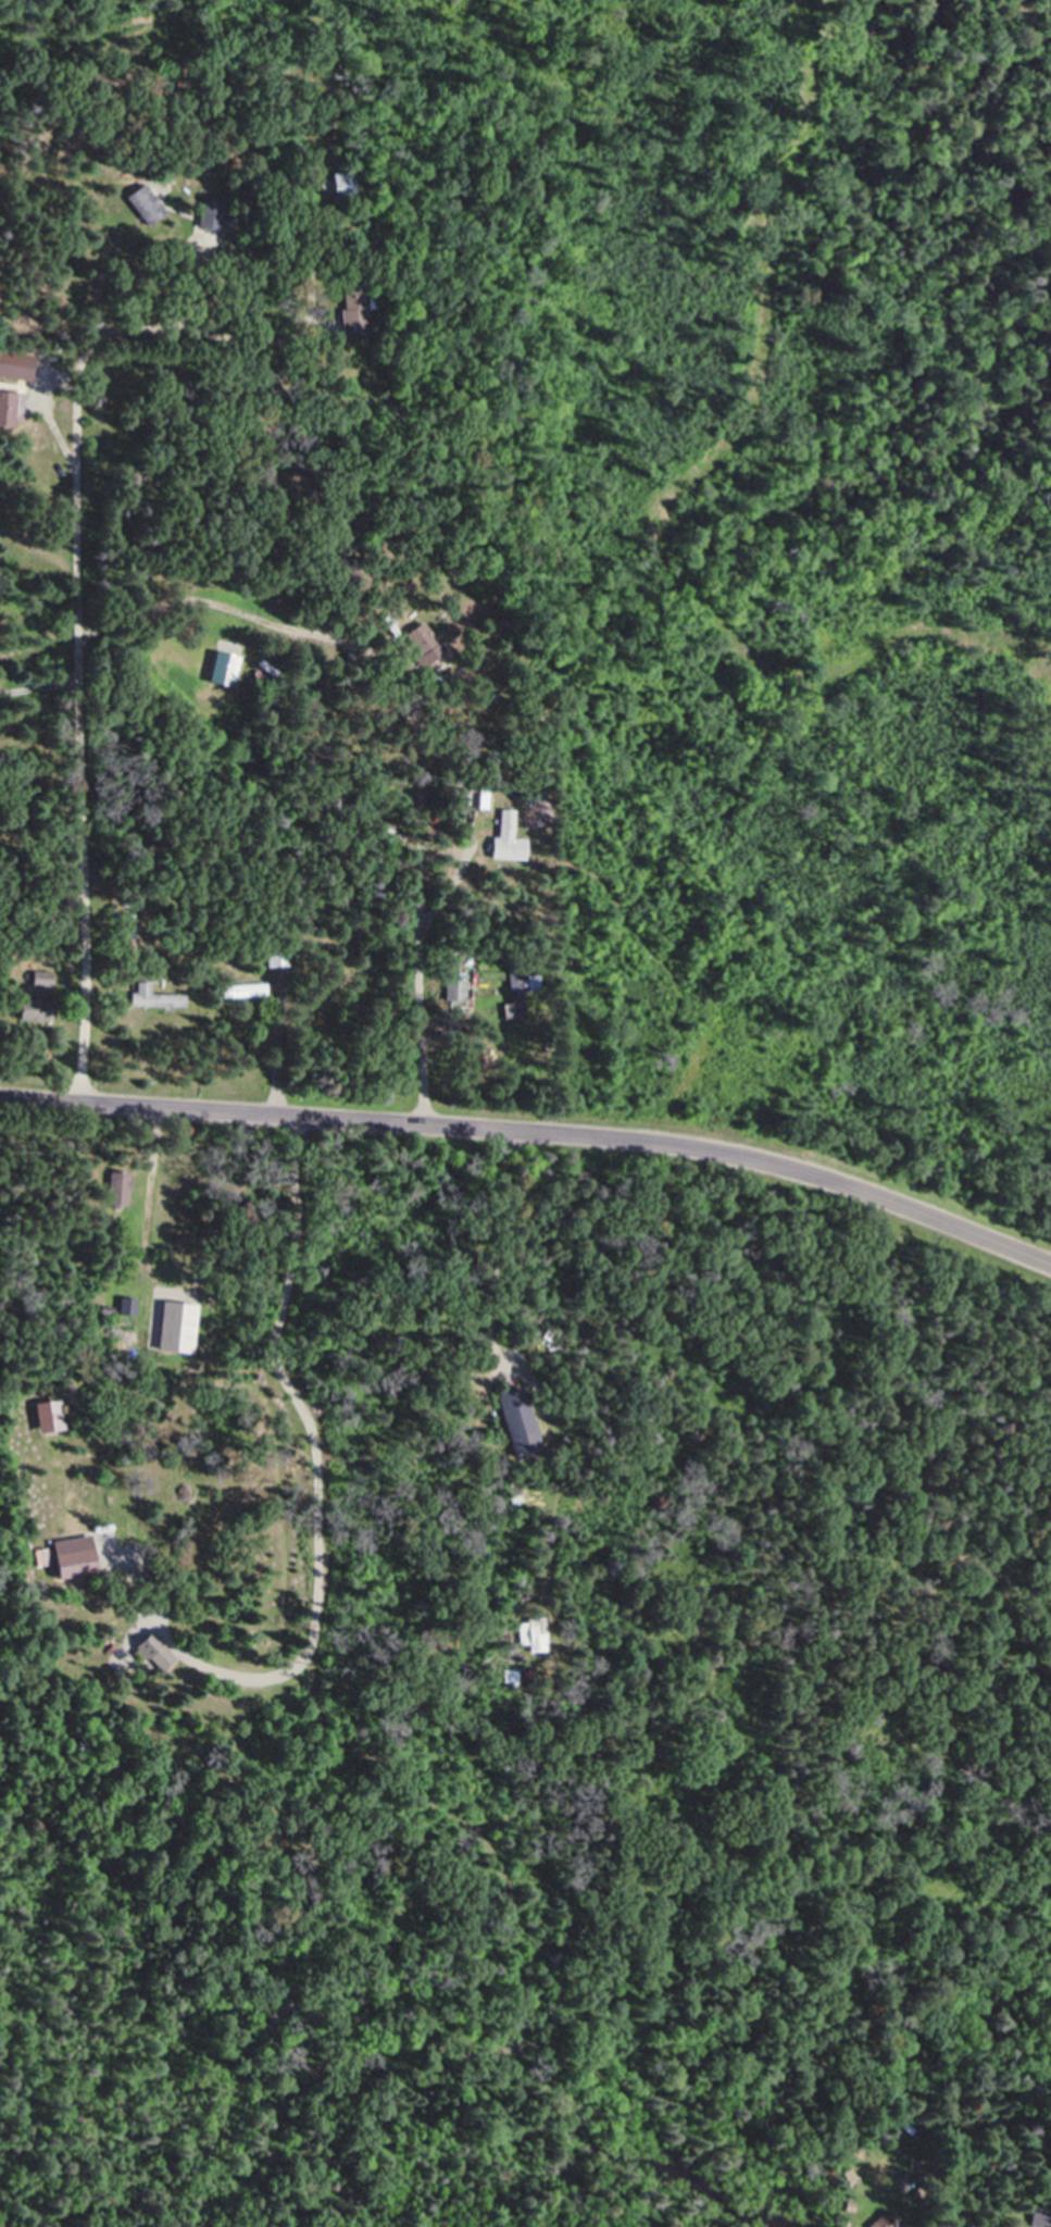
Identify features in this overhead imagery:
building: (347, 184)
building: (147, 204)
building: (212, 213)
building: (359, 307)
building: (8, 410)
building: (422, 638)
road: (86, 706)
building: (280, 956)
road: (421, 971)
building: (42, 978)
building: (455, 988)
building: (246, 991)
building: (515, 993)
building: (157, 997)
building: (35, 1009)
road: (535, 1129)
building: (120, 1187)
building: (515, 1421)
building: (76, 1563)
building: (534, 1634)
building: (157, 1652)
building: (886, 2220)

